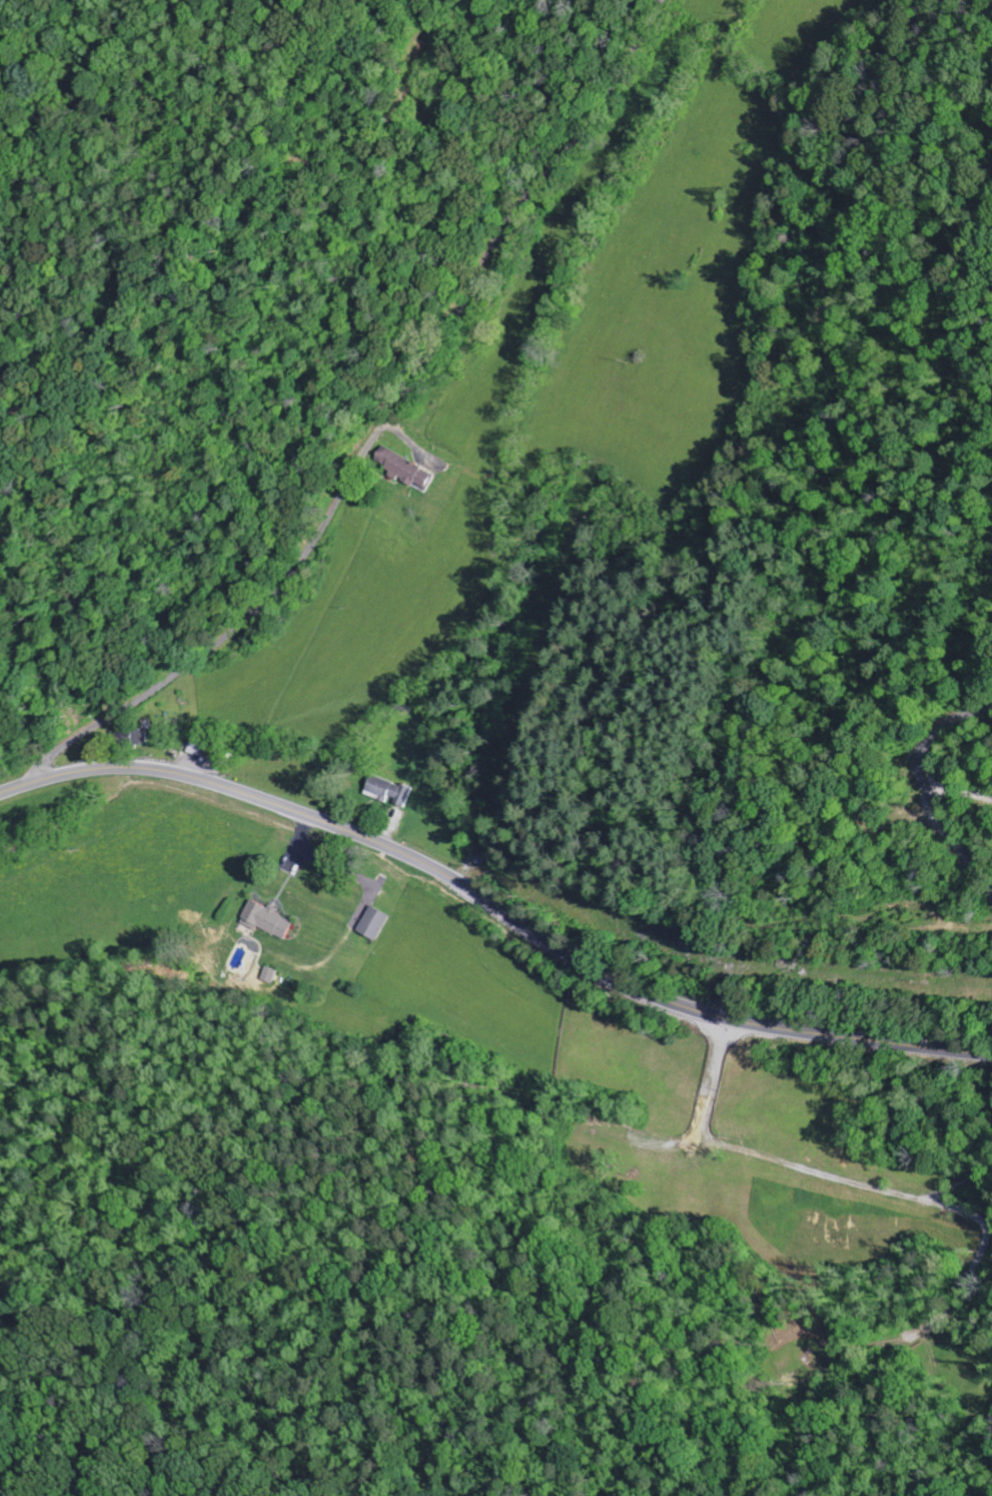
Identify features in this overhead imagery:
road: (375, 439)
building: (406, 470)
building: (140, 739)
building: (389, 792)
road: (496, 905)
building: (268, 921)
building: (374, 925)
building: (271, 976)

